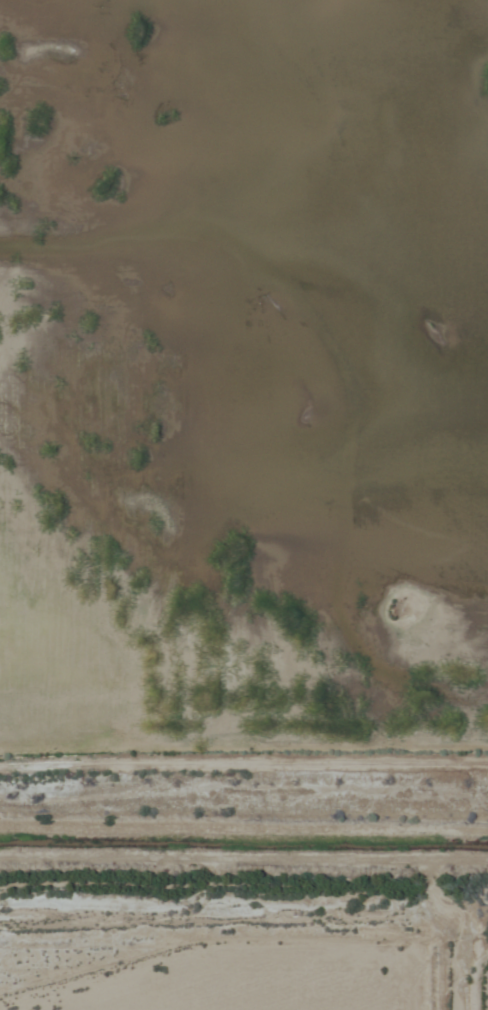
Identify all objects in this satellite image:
road: (244, 873)

